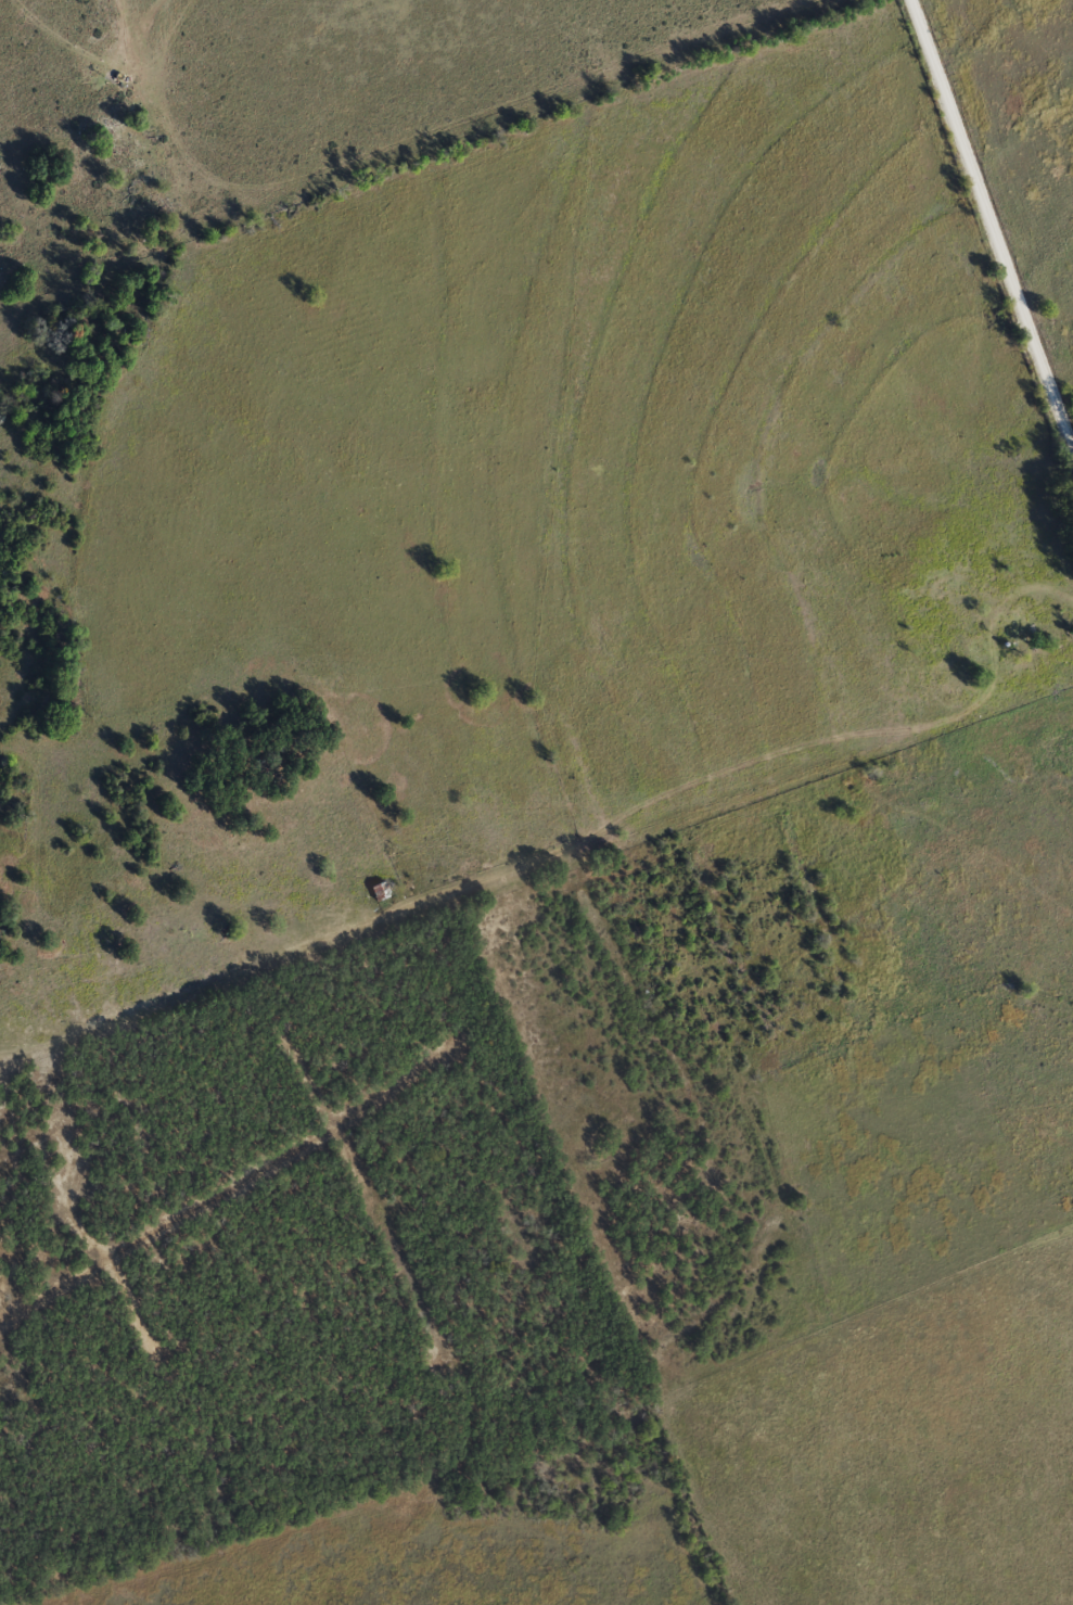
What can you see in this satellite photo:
road: (992, 228)

